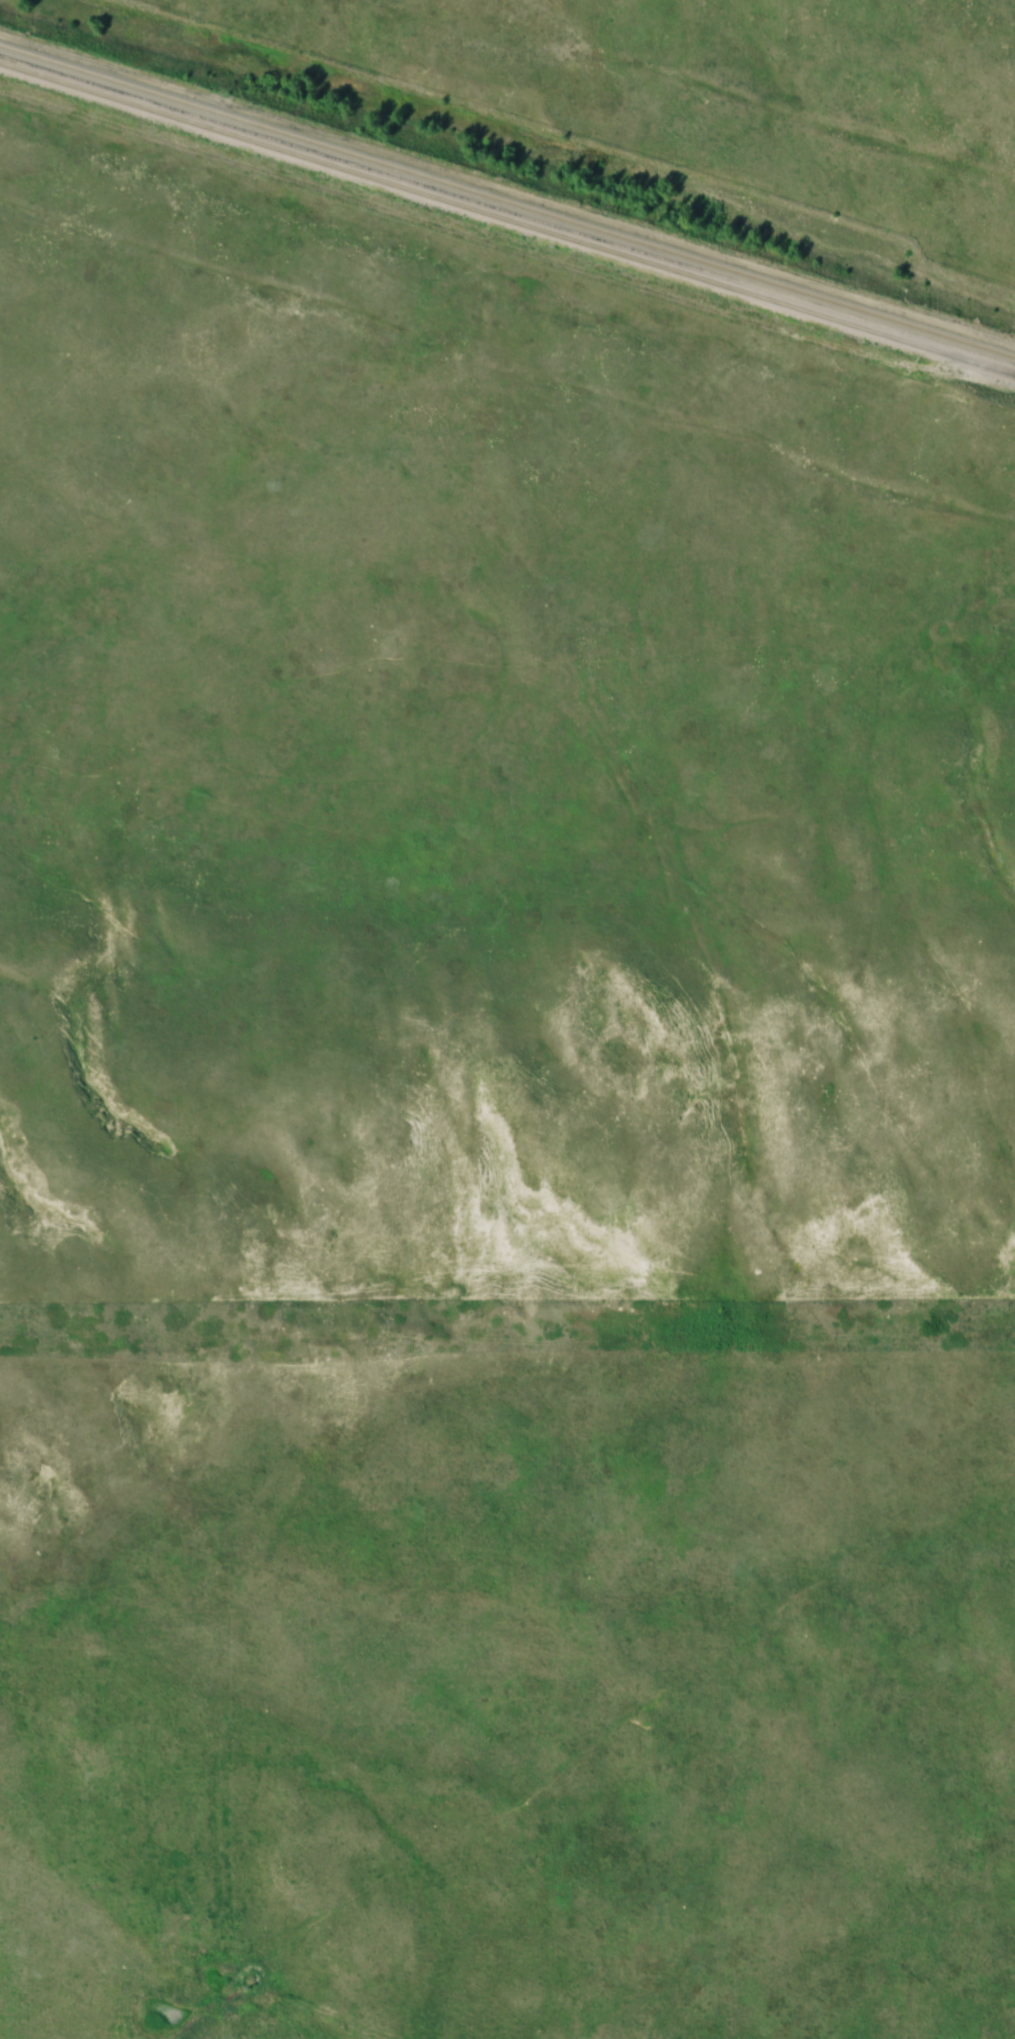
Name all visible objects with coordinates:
railway: (507, 199)
railway: (507, 217)

